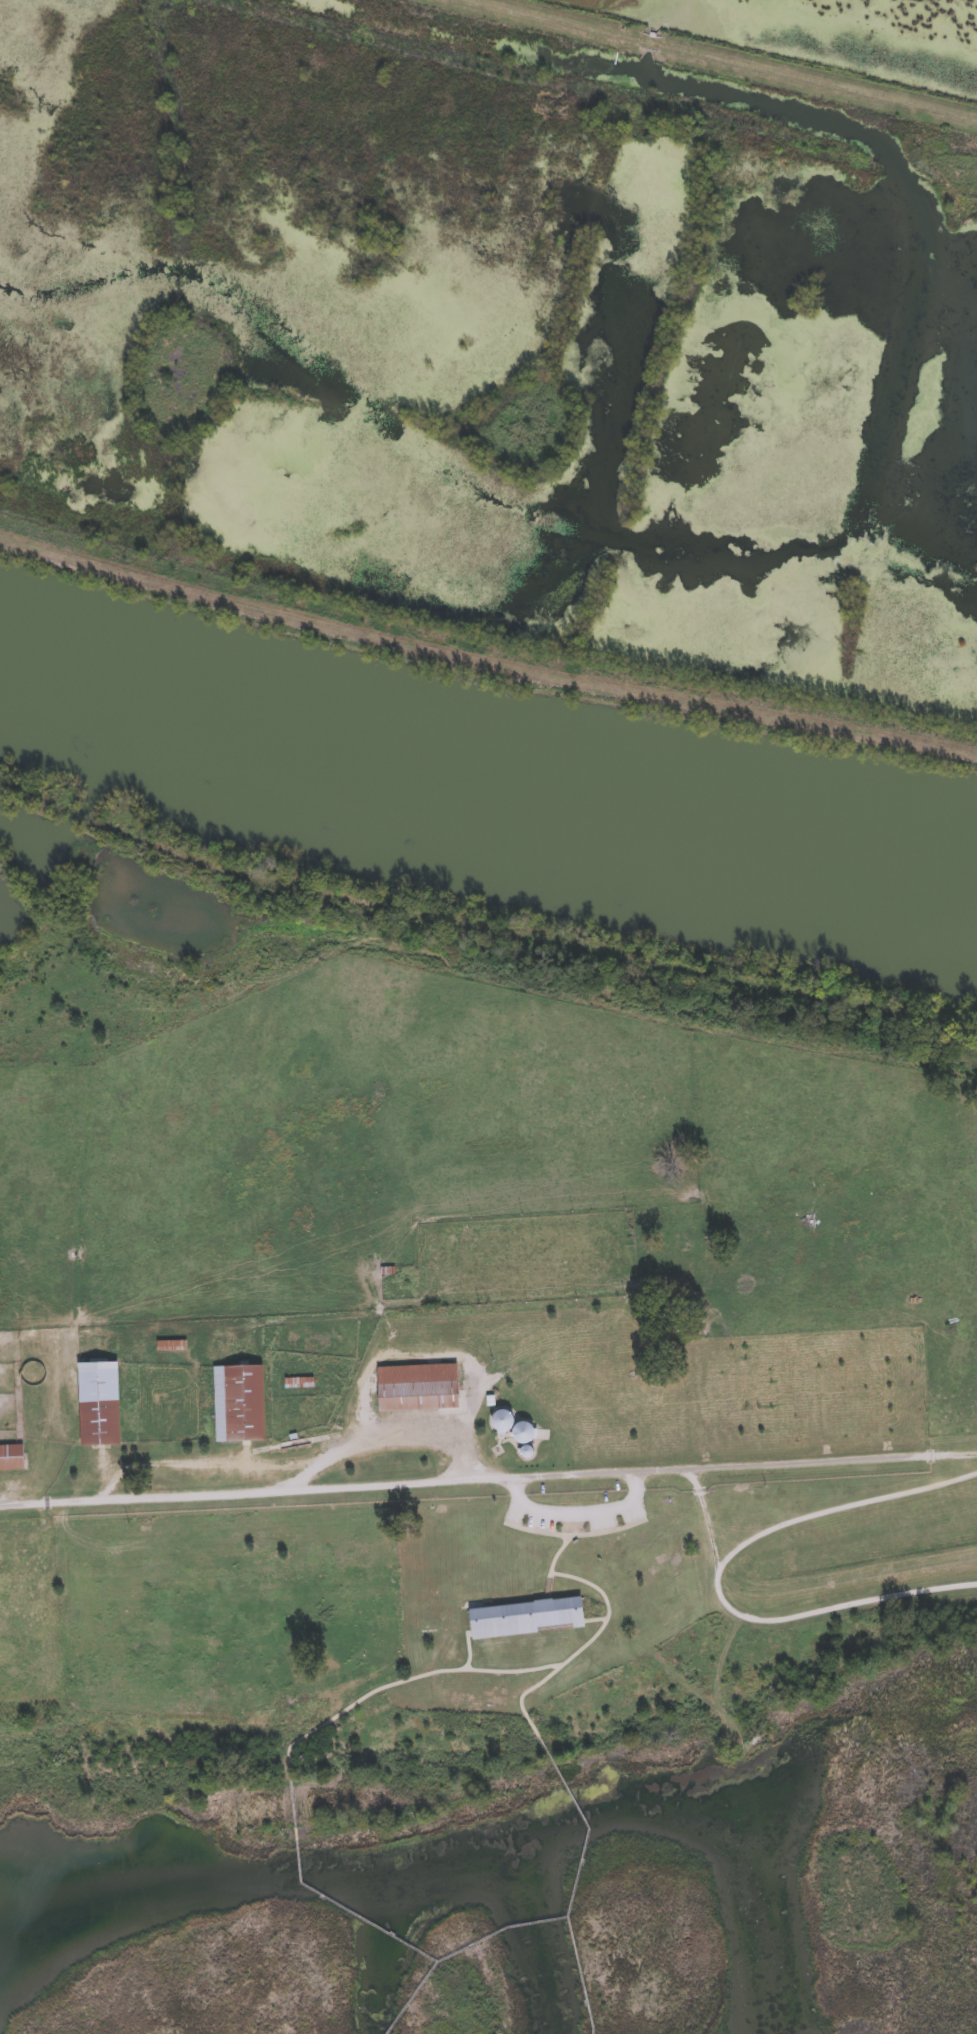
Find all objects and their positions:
road: (728, 59)
building: (417, 1385)
building: (99, 1400)
building: (239, 1400)
building: (503, 1417)
road: (388, 1425)
building: (523, 1430)
building: (12, 1455)
road: (256, 1462)
road: (488, 1478)
road: (576, 1513)
road: (795, 1586)
building: (524, 1614)

